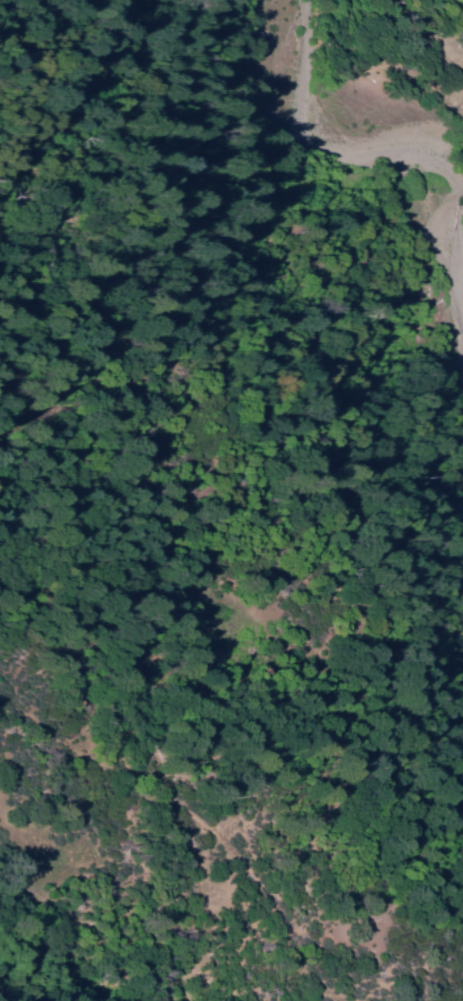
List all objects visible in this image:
road: (197, 813)

